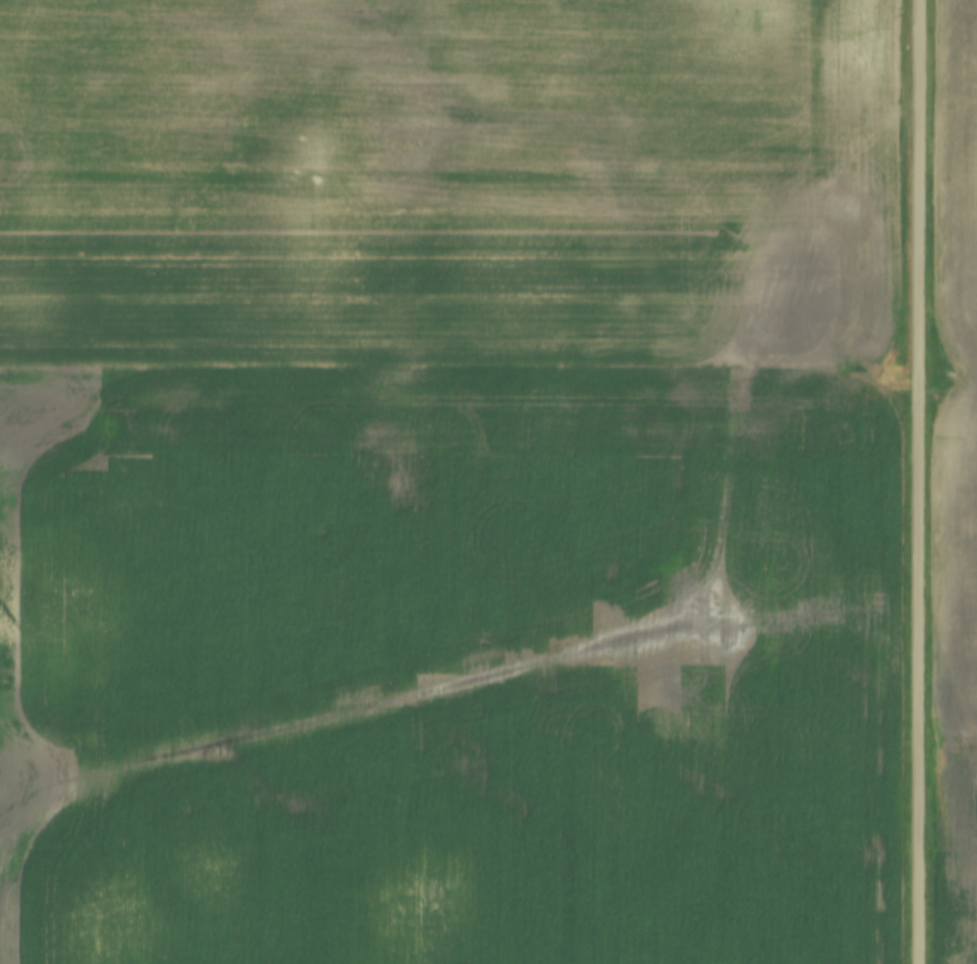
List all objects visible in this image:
road: (928, 482)

